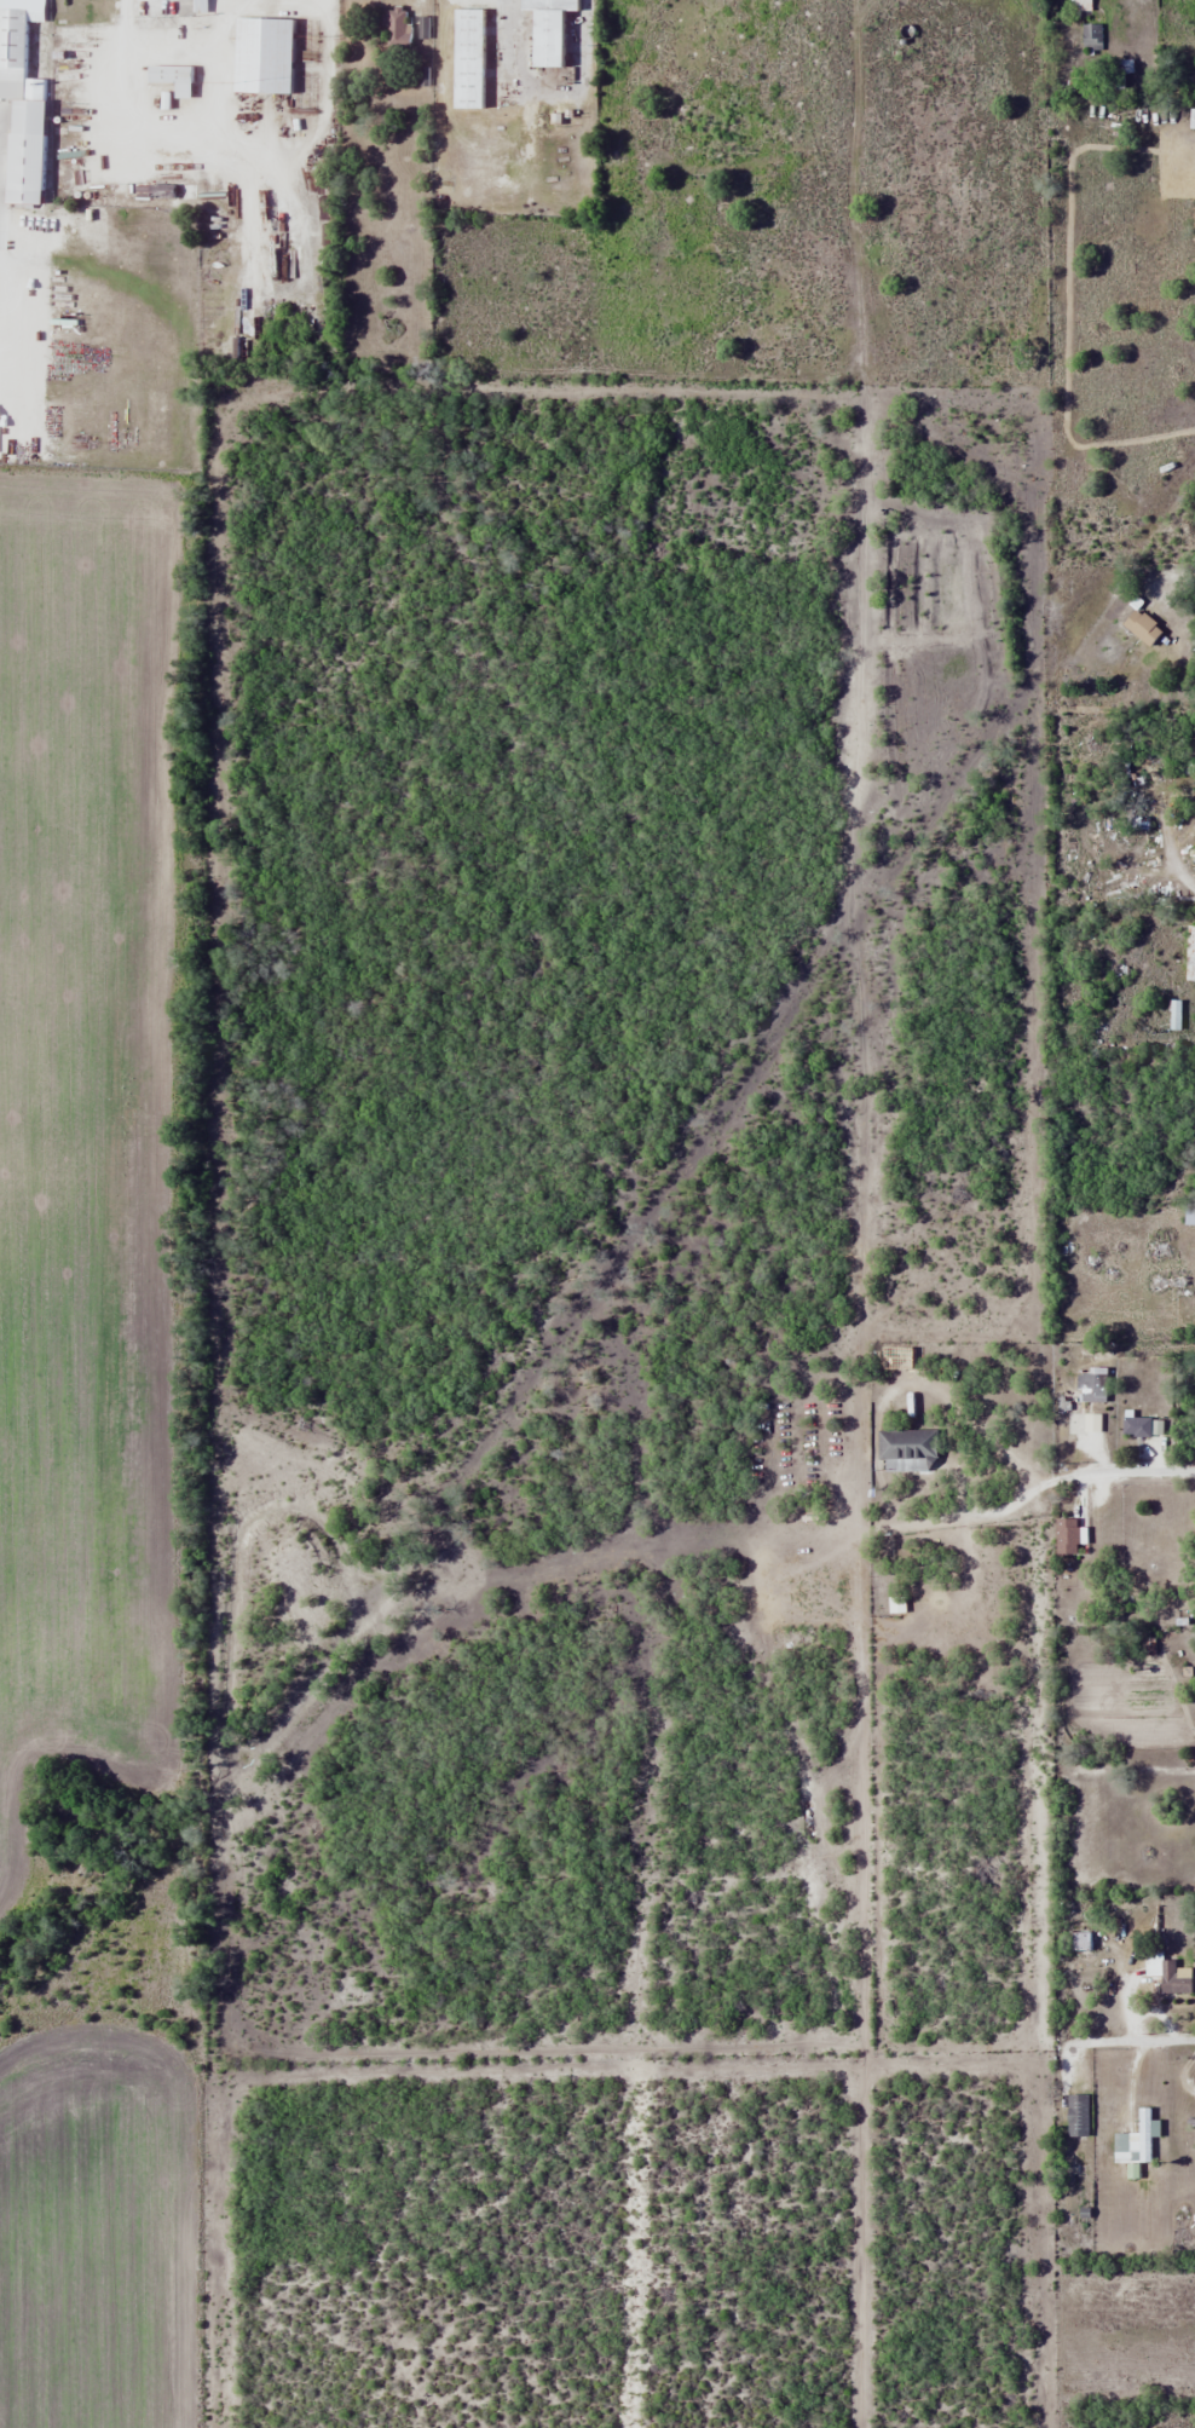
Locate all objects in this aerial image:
building: (1078, 5)
building: (204, 6)
building: (558, 29)
building: (1090, 36)
building: (18, 50)
building: (270, 56)
building: (477, 59)
building: (177, 77)
road: (1184, 577)
building: (1141, 627)
building: (1188, 1216)
building: (1090, 1386)
building: (1141, 1426)
building: (906, 1449)
road: (1147, 1471)
building: (1079, 1940)
building: (1166, 1976)
building: (1194, 1983)
road: (1137, 2041)
building: (1075, 2115)
building: (1136, 2140)

